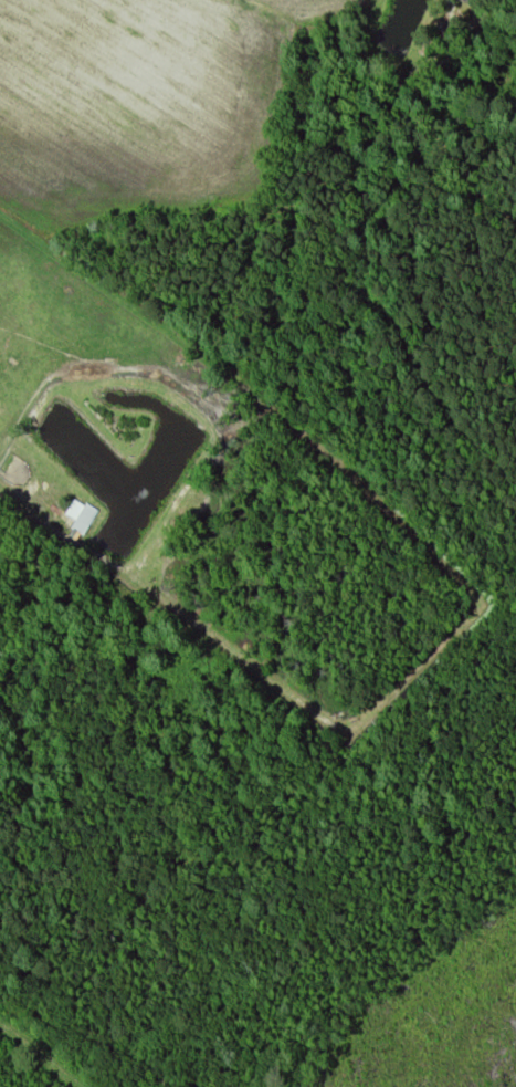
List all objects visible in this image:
building: (85, 520)

